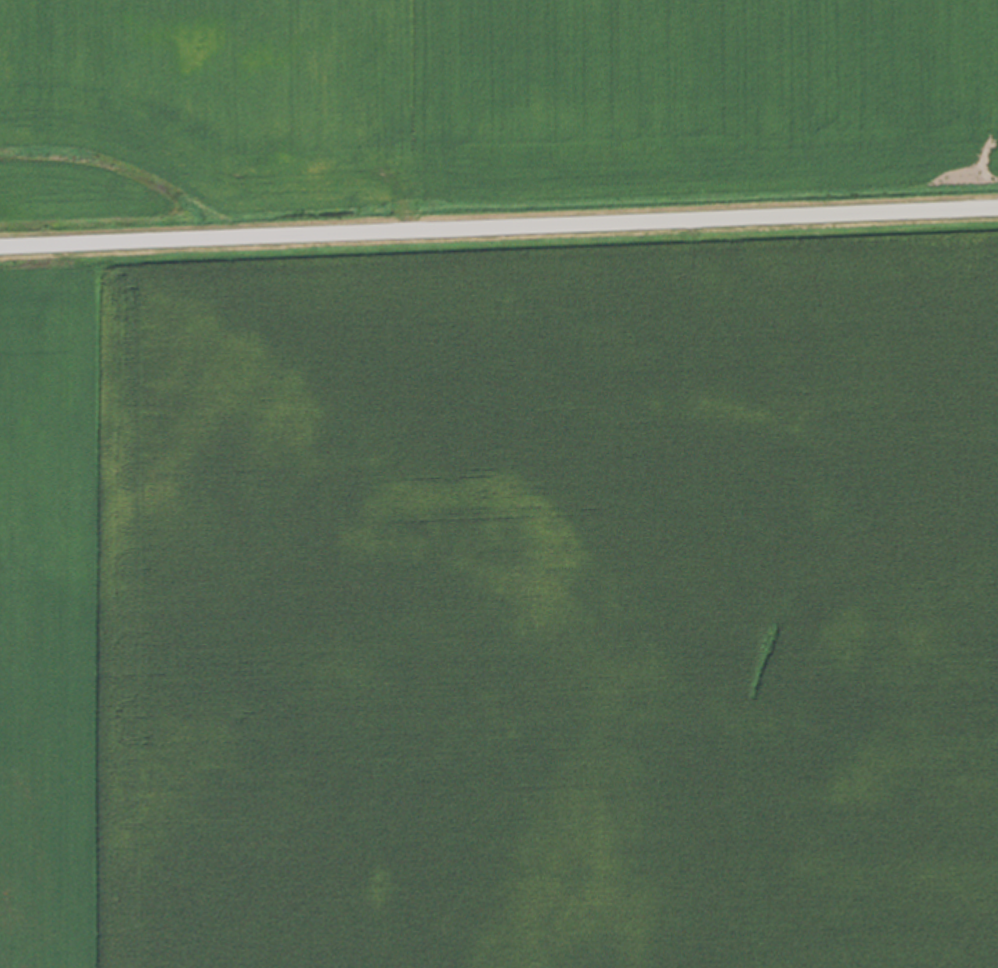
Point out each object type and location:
road: (499, 228)

